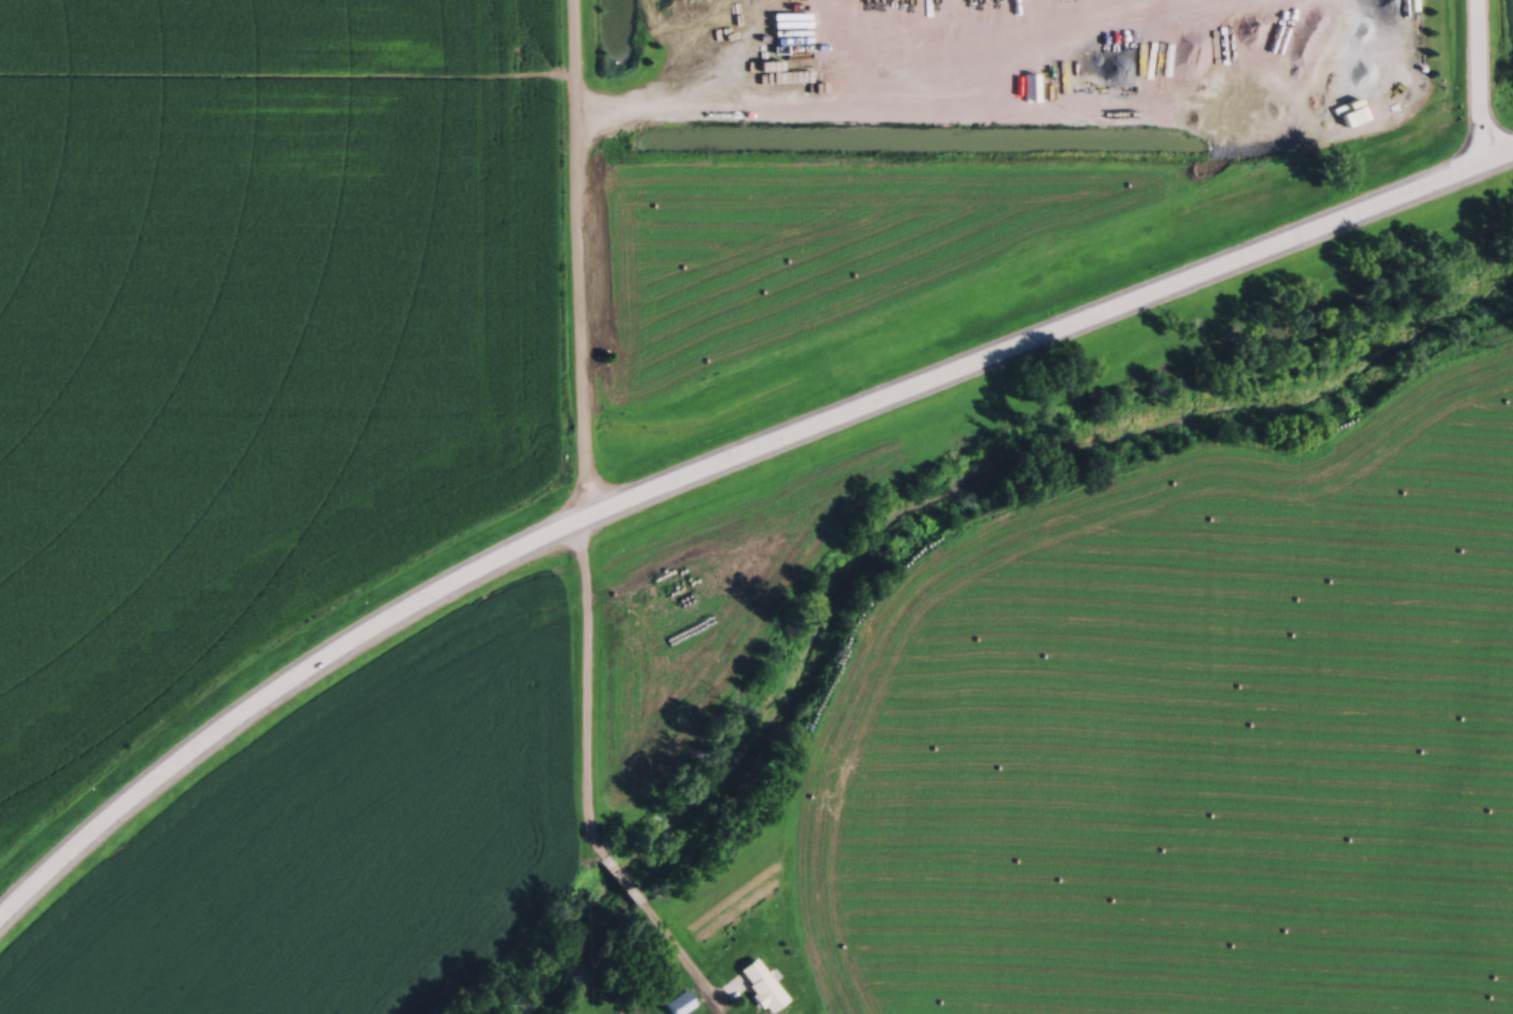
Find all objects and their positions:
road: (834, 71)
road: (1481, 81)
road: (583, 411)
road: (717, 466)
road: (599, 861)
road: (630, 899)
road: (672, 949)
building: (760, 981)
building: (678, 1000)

